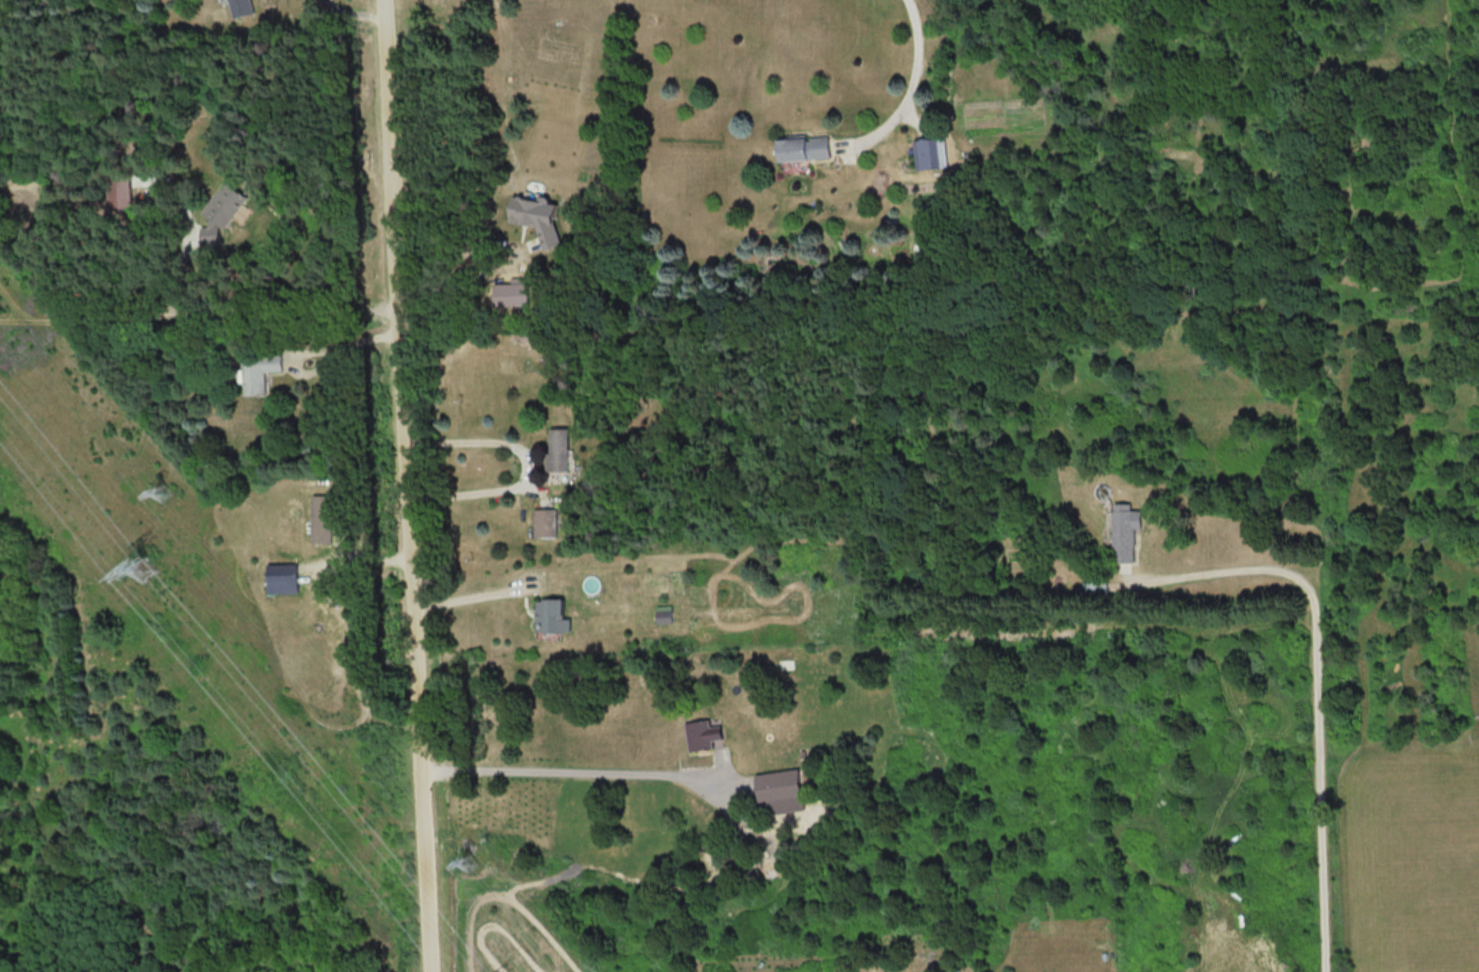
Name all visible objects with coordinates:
building: (239, 6)
road: (358, 8)
road: (916, 73)
building: (801, 147)
building: (926, 152)
building: (219, 201)
road: (231, 308)
road: (319, 348)
building: (258, 371)
building: (556, 449)
road: (526, 468)
road: (406, 486)
power tower: (164, 487)
building: (320, 518)
building: (543, 522)
building: (1124, 530)
power tower: (145, 568)
building: (280, 577)
building: (1093, 583)
road: (470, 591)
building: (549, 615)
building: (667, 615)
building: (789, 663)
road: (1318, 679)
building: (702, 733)
road: (572, 773)
power tower: (473, 860)

